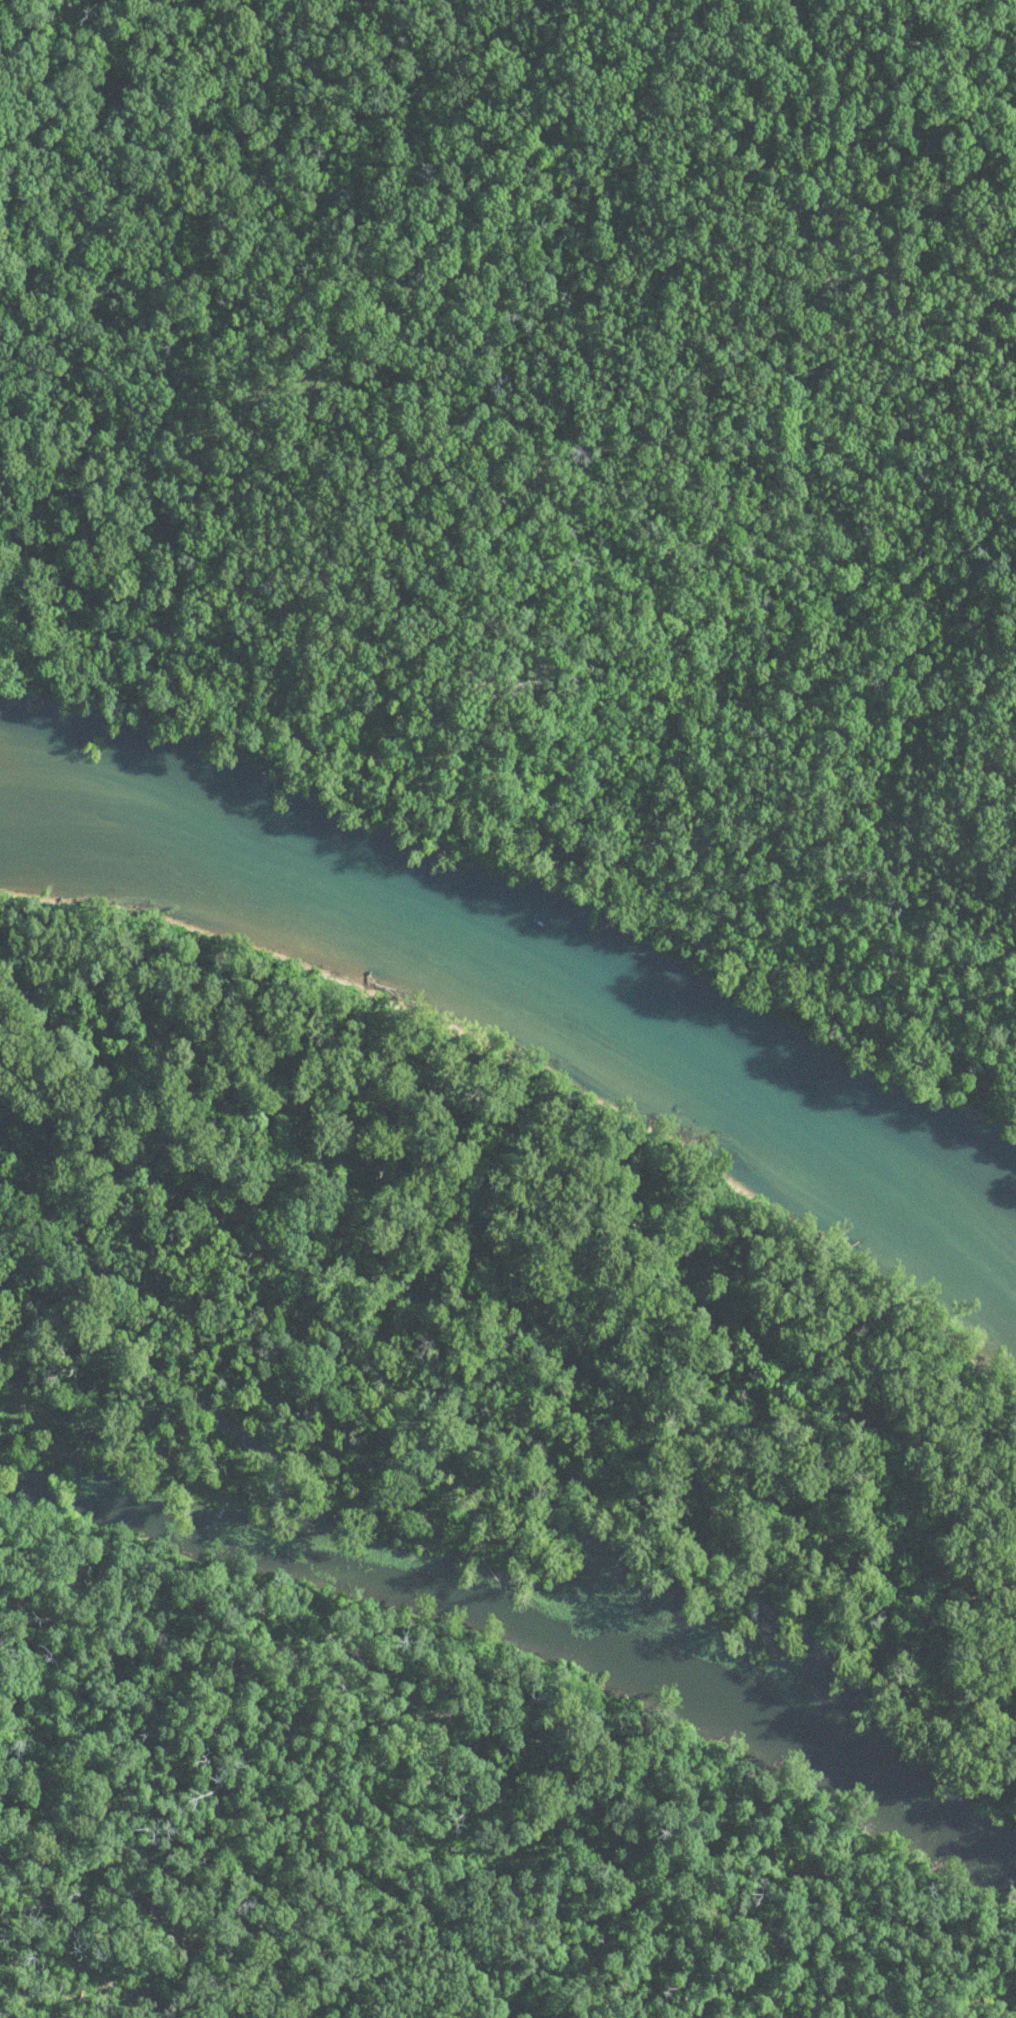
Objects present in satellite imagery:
road: (90, 222)
river: (538, 971)

